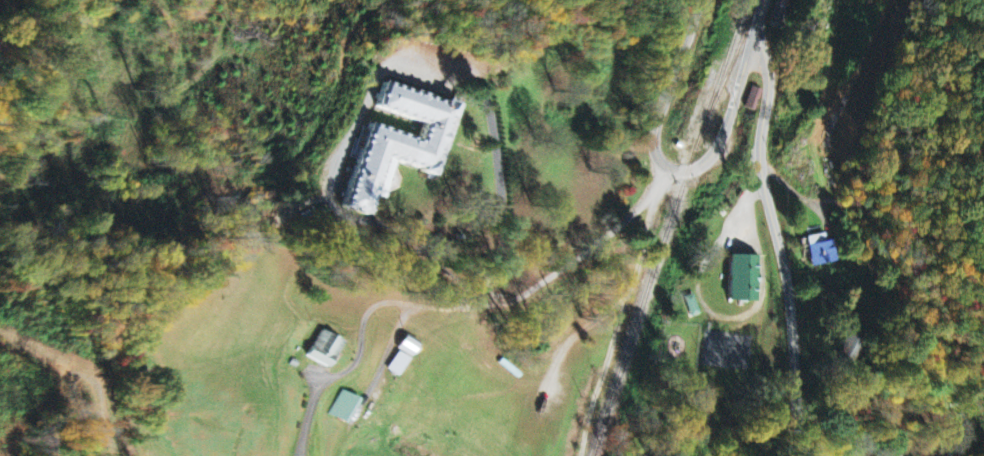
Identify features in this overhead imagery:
building: (783, 12)
road: (762, 24)
road: (380, 71)
road: (675, 83)
building: (755, 99)
road: (729, 130)
building: (403, 142)
railway: (669, 228)
road: (782, 249)
building: (822, 251)
building: (743, 279)
building: (691, 306)
road: (460, 307)
road: (625, 312)
building: (409, 346)
building: (325, 349)
building: (400, 364)
building: (347, 408)

